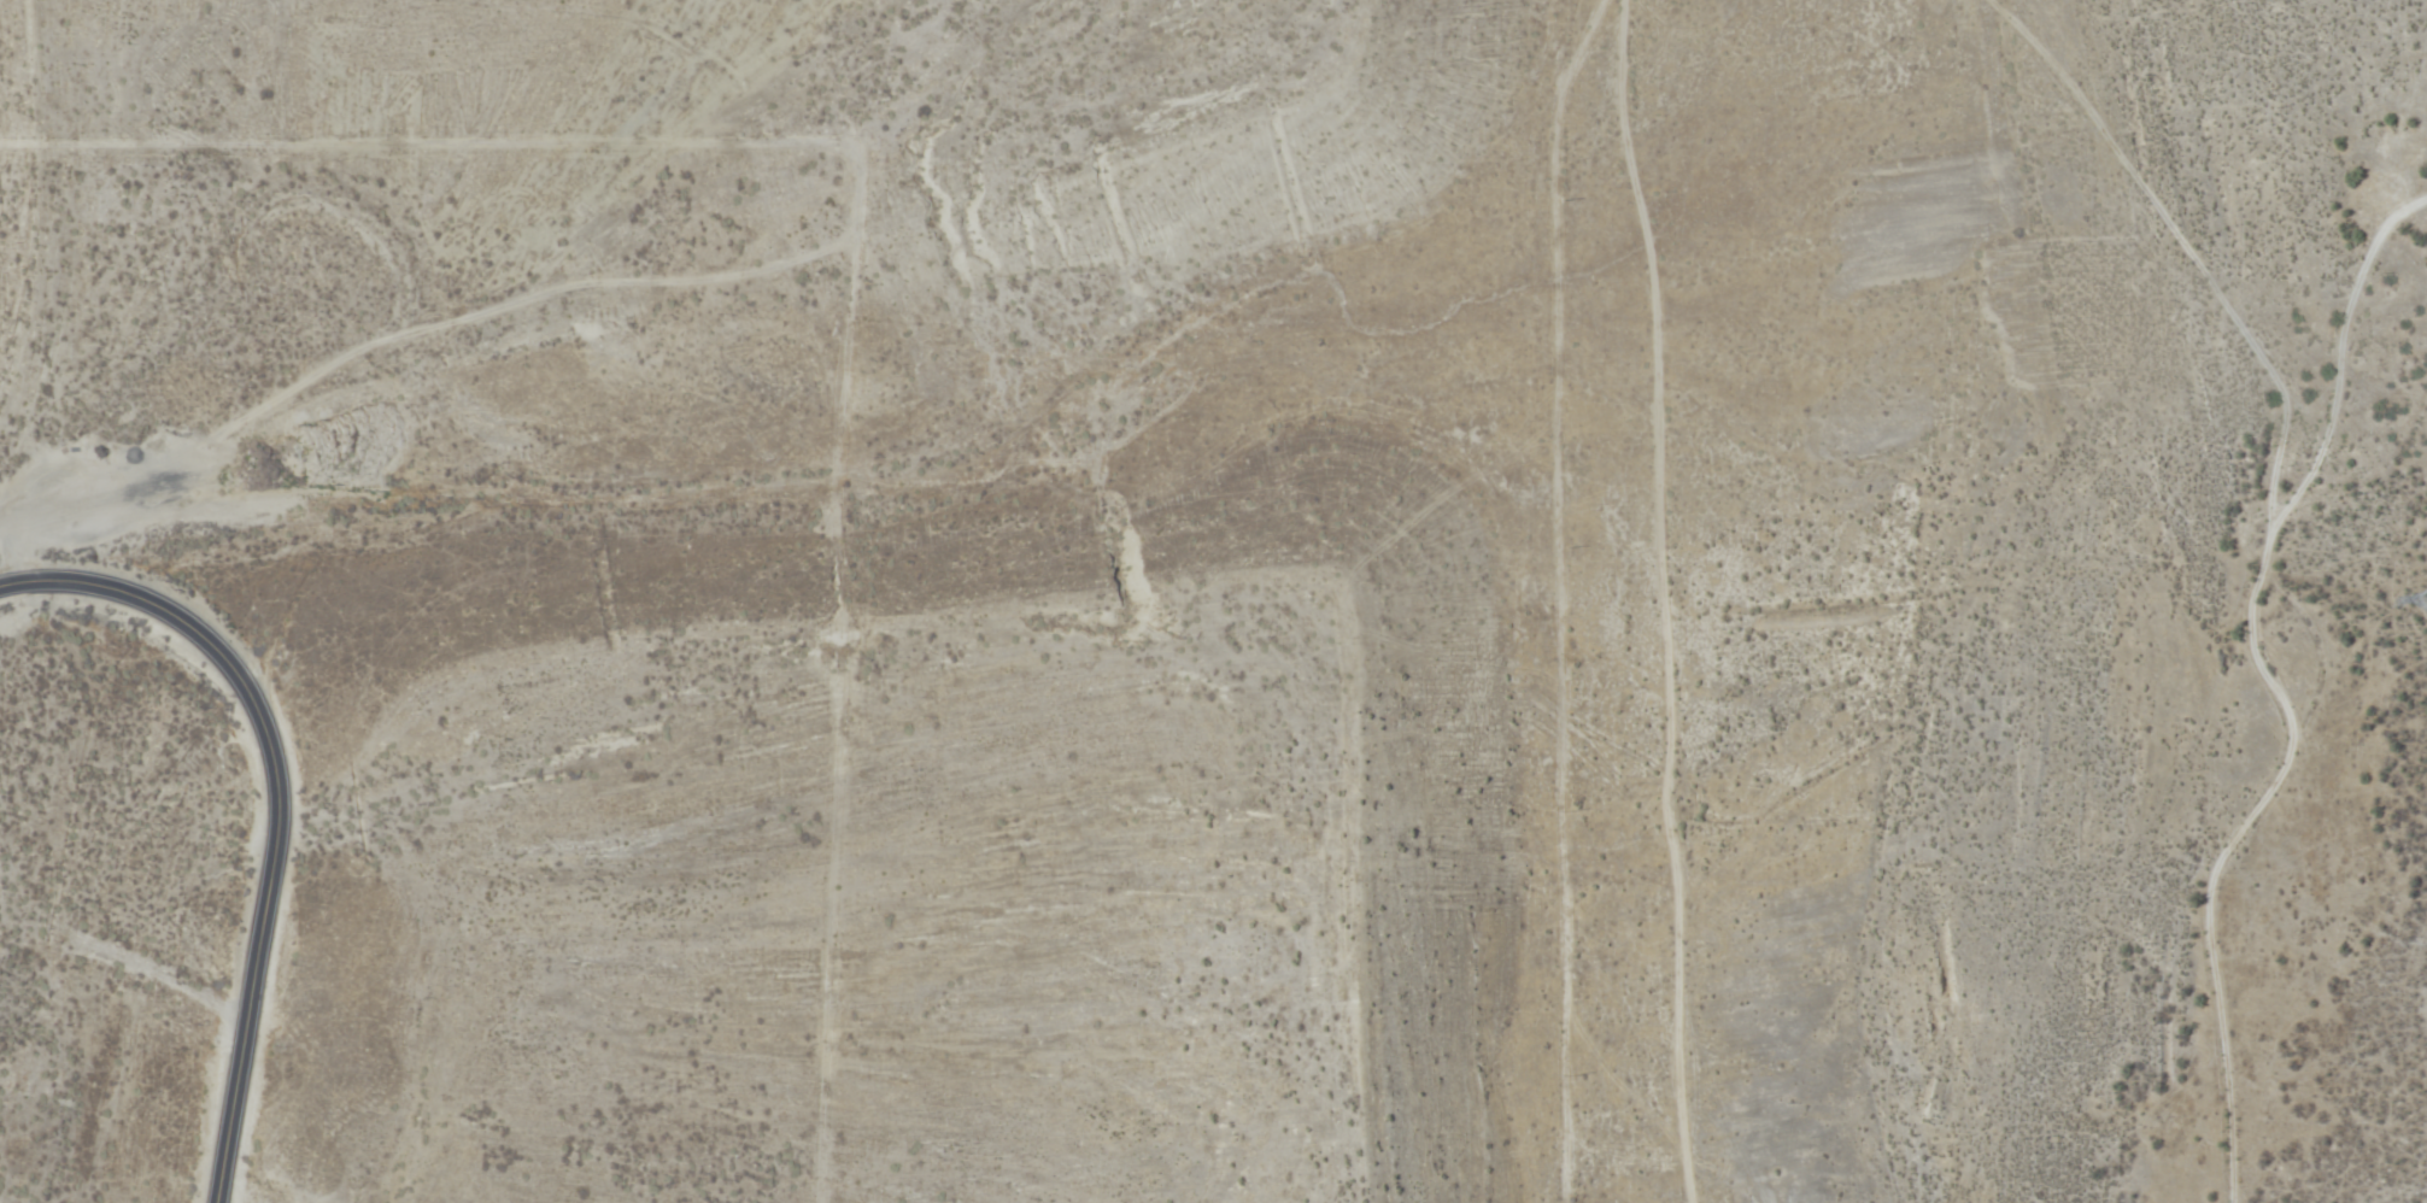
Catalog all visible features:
road: (1331, 2)
road: (1643, 22)
road: (1705, 592)
road: (276, 803)

